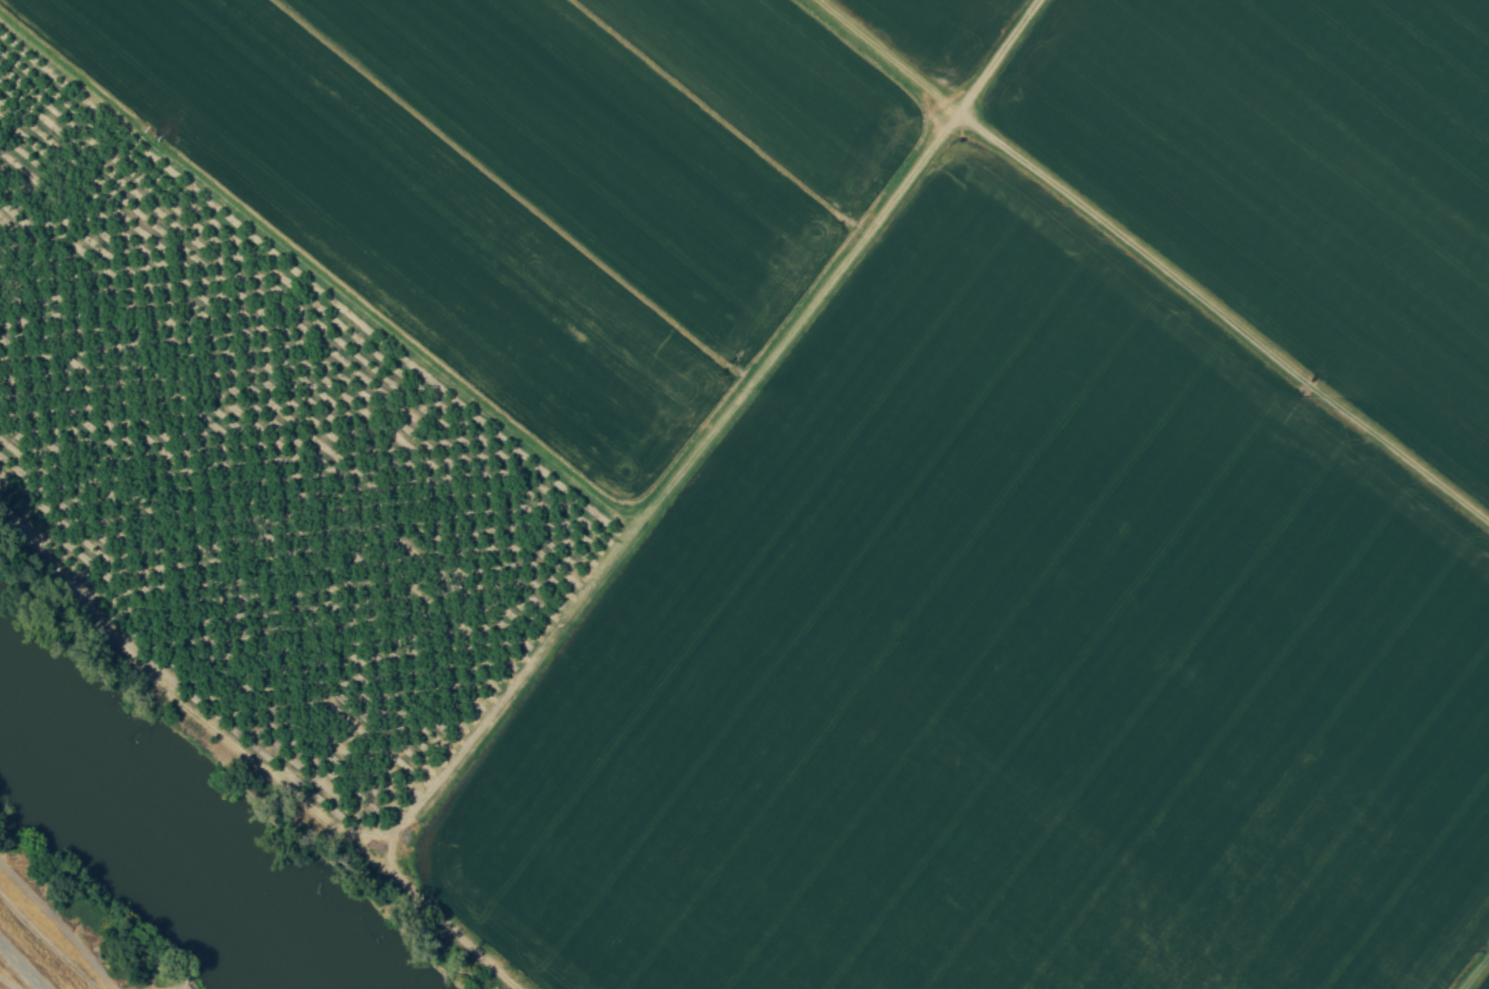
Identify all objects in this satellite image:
road: (23, 964)
road: (10, 982)

